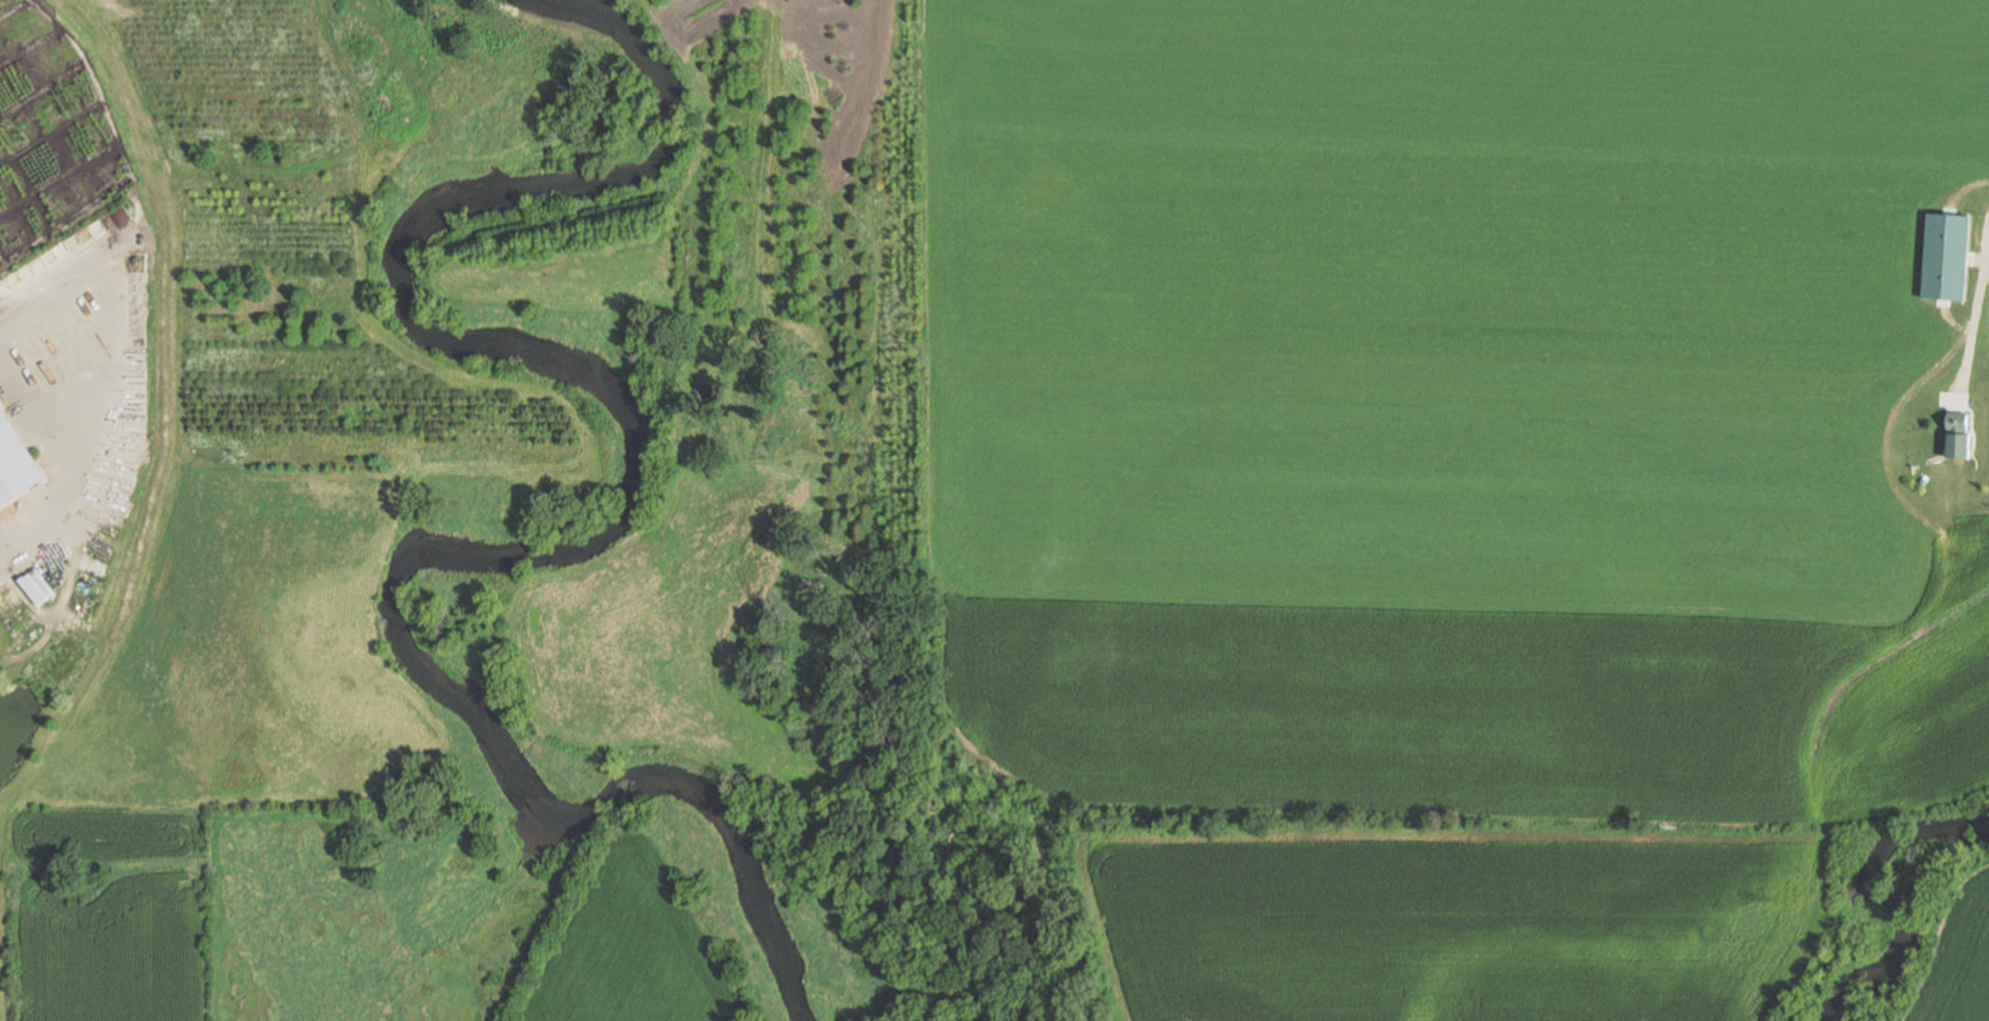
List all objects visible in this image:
road: (763, 4)
road: (13, 8)
road: (734, 14)
road: (776, 17)
road: (29, 48)
road: (42, 89)
road: (395, 97)
building: (49, 124)
road: (50, 133)
road: (119, 154)
road: (57, 177)
building: (1944, 256)
road: (1985, 260)
road: (1, 265)
road: (1974, 306)
road: (95, 368)
road: (163, 372)
crop: (1453, 403)
building: (1954, 435)
building: (16, 461)
road: (541, 468)
river: (598, 536)
crop: (667, 638)
crop: (249, 660)
river: (1881, 899)
crop: (109, 910)
crop: (1444, 924)
crop: (629, 948)
crop: (1957, 965)

